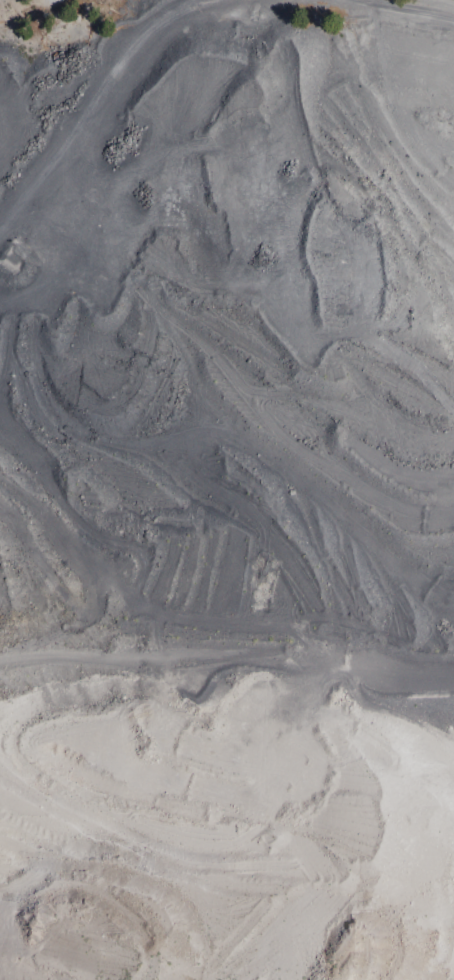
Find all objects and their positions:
road: (400, 10)
road: (96, 95)
quarry: (227, 490)

